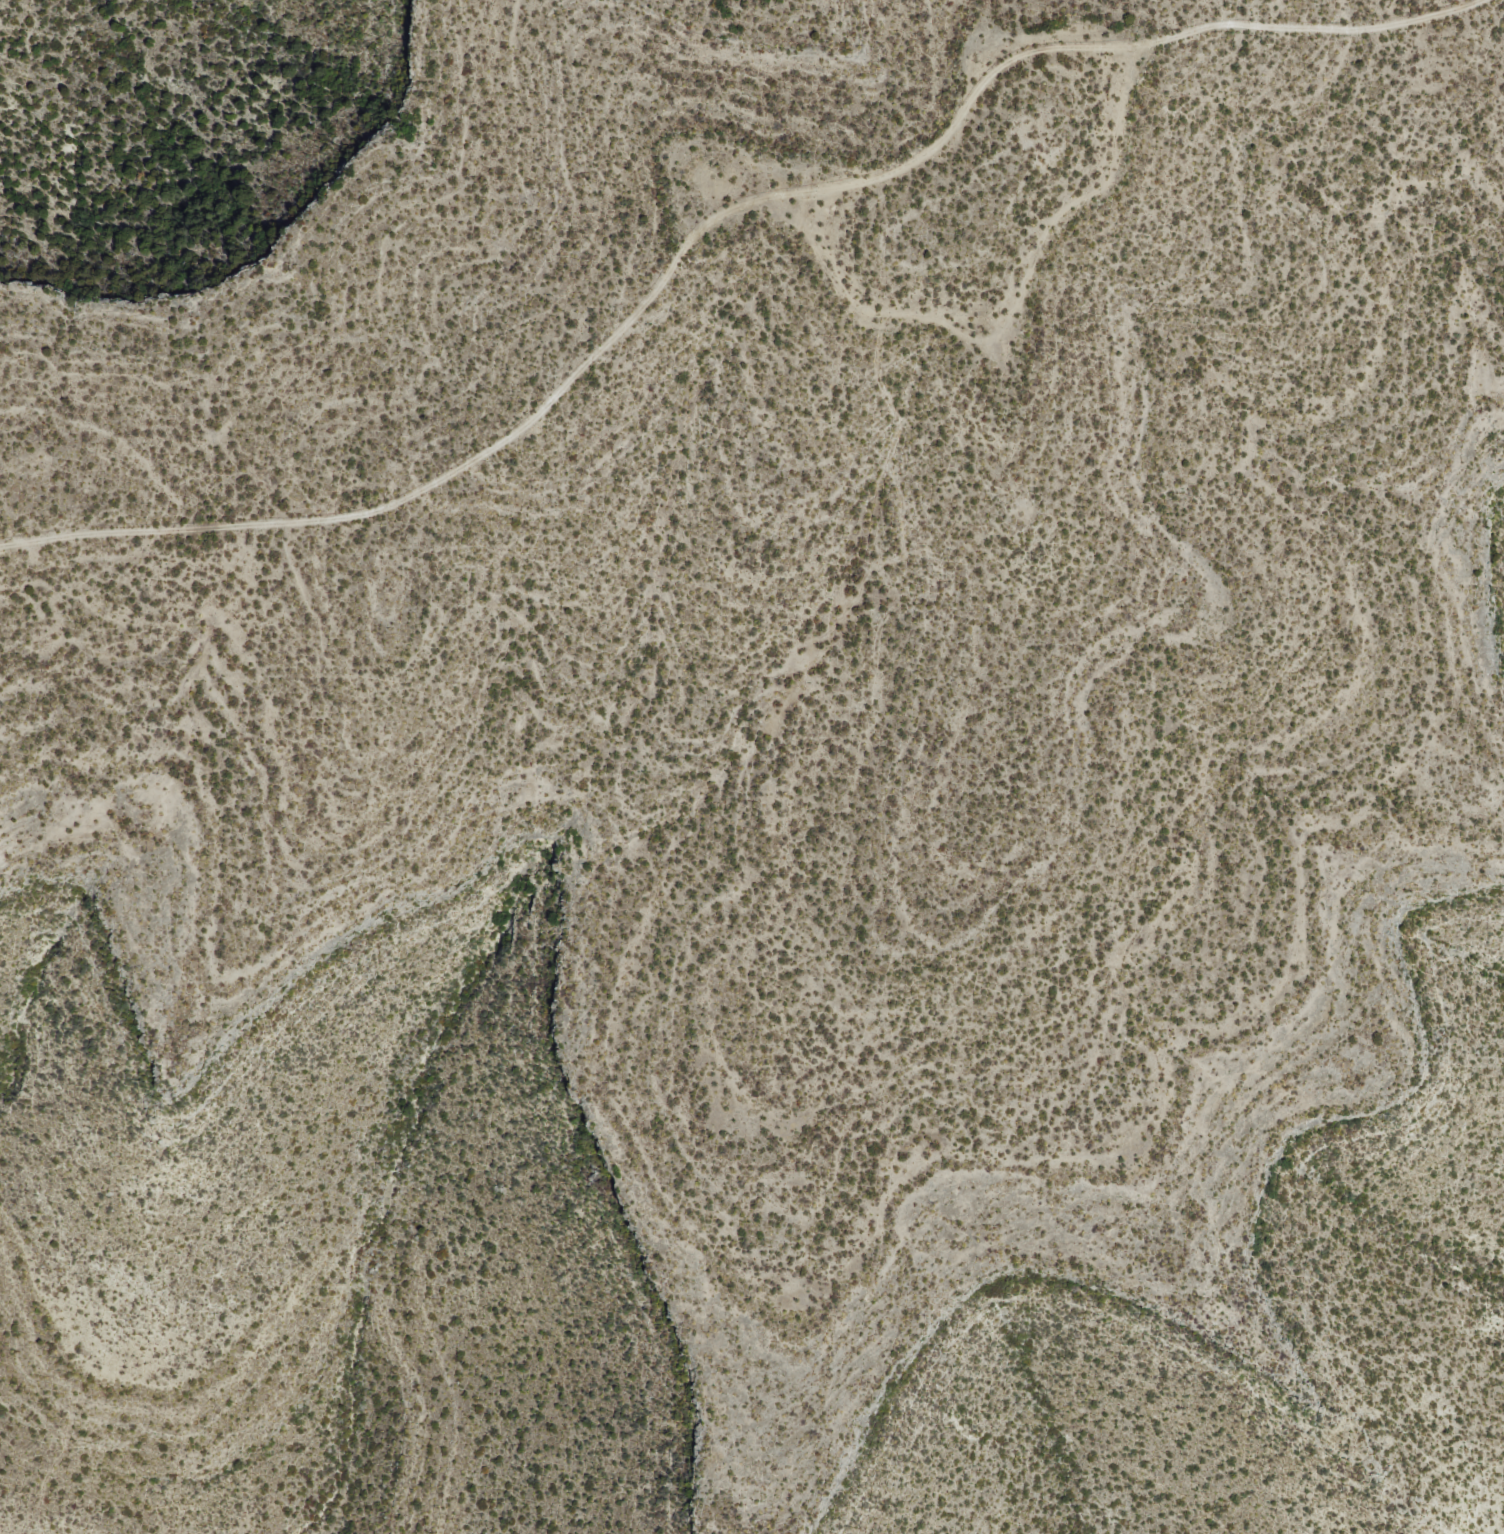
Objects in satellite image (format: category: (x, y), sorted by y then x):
road: (716, 249)

